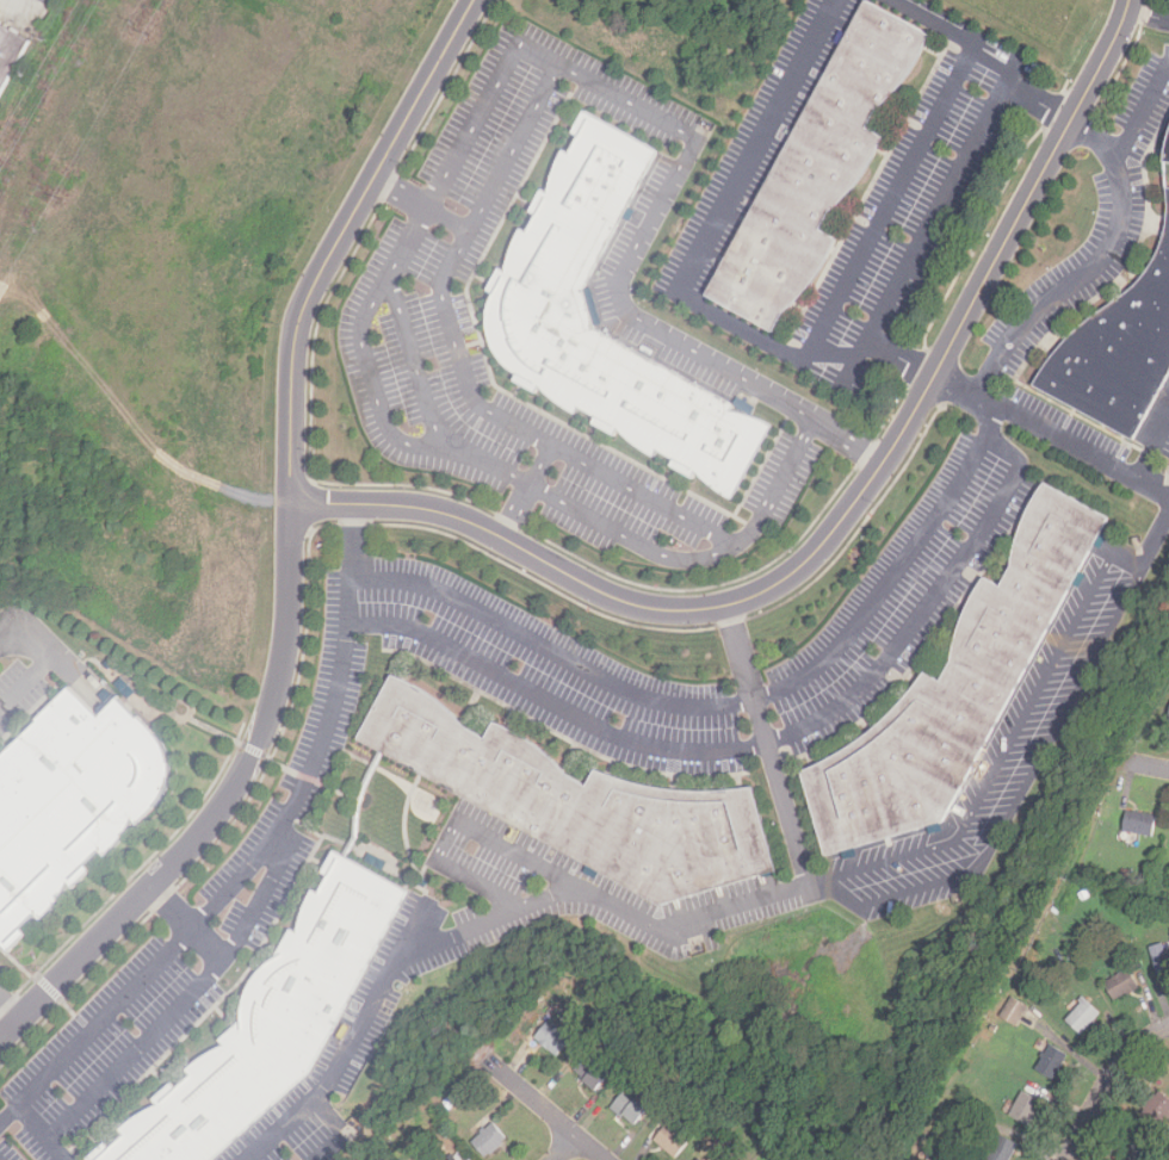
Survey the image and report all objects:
road: (1149, 6)
road: (958, 33)
building: (10, 54)
road: (540, 55)
road: (1039, 101)
road: (1149, 106)
road: (568, 122)
building: (1168, 156)
building: (821, 169)
road: (526, 200)
road: (420, 205)
road: (341, 240)
road: (631, 254)
road: (485, 281)
building: (540, 306)
road: (1016, 330)
road: (487, 337)
road: (768, 341)
road: (470, 343)
building: (1118, 355)
road: (903, 359)
road: (489, 373)
road: (960, 380)
road: (520, 385)
road: (375, 389)
road: (596, 432)
road: (1155, 443)
road: (798, 451)
road: (542, 465)
road: (675, 474)
road: (621, 483)
road: (515, 510)
road: (841, 523)
road: (353, 541)
road: (901, 569)
road: (742, 650)
road: (551, 651)
road: (48, 657)
building: (958, 693)
road: (43, 703)
road: (169, 707)
road: (29, 709)
road: (159, 719)
road: (757, 745)
road: (274, 758)
road: (1150, 767)
road: (784, 789)
road: (361, 802)
building: (582, 802)
building: (70, 804)
building: (431, 805)
road: (223, 811)
road: (458, 821)
building: (1139, 825)
road: (404, 833)
road: (318, 862)
building: (1125, 873)
building: (1162, 883)
road: (218, 898)
road: (738, 904)
building: (1153, 907)
building: (1163, 907)
road: (188, 924)
road: (410, 933)
road: (276, 939)
road: (16, 961)
building: (1162, 966)
road: (33, 975)
building: (1122, 985)
road: (49, 987)
road: (227, 993)
road: (186, 998)
road: (12, 1004)
building: (1014, 1011)
road: (224, 1017)
building: (1083, 1017)
building: (274, 1023)
building: (994, 1028)
building: (553, 1040)
building: (1050, 1059)
building: (592, 1075)
road: (160, 1078)
road: (1106, 1084)
building: (631, 1109)
road: (545, 1110)
building: (1026, 1110)
building: (1157, 1110)
building: (966, 1115)
road: (8, 1118)
road: (342, 1131)
building: (630, 1136)
road: (94, 1140)
building: (490, 1141)
building: (673, 1141)
road: (565, 1148)
building: (1003, 1149)
building: (1133, 1153)
road: (66, 1154)
building: (460, 1156)
park: (370, 1158)

